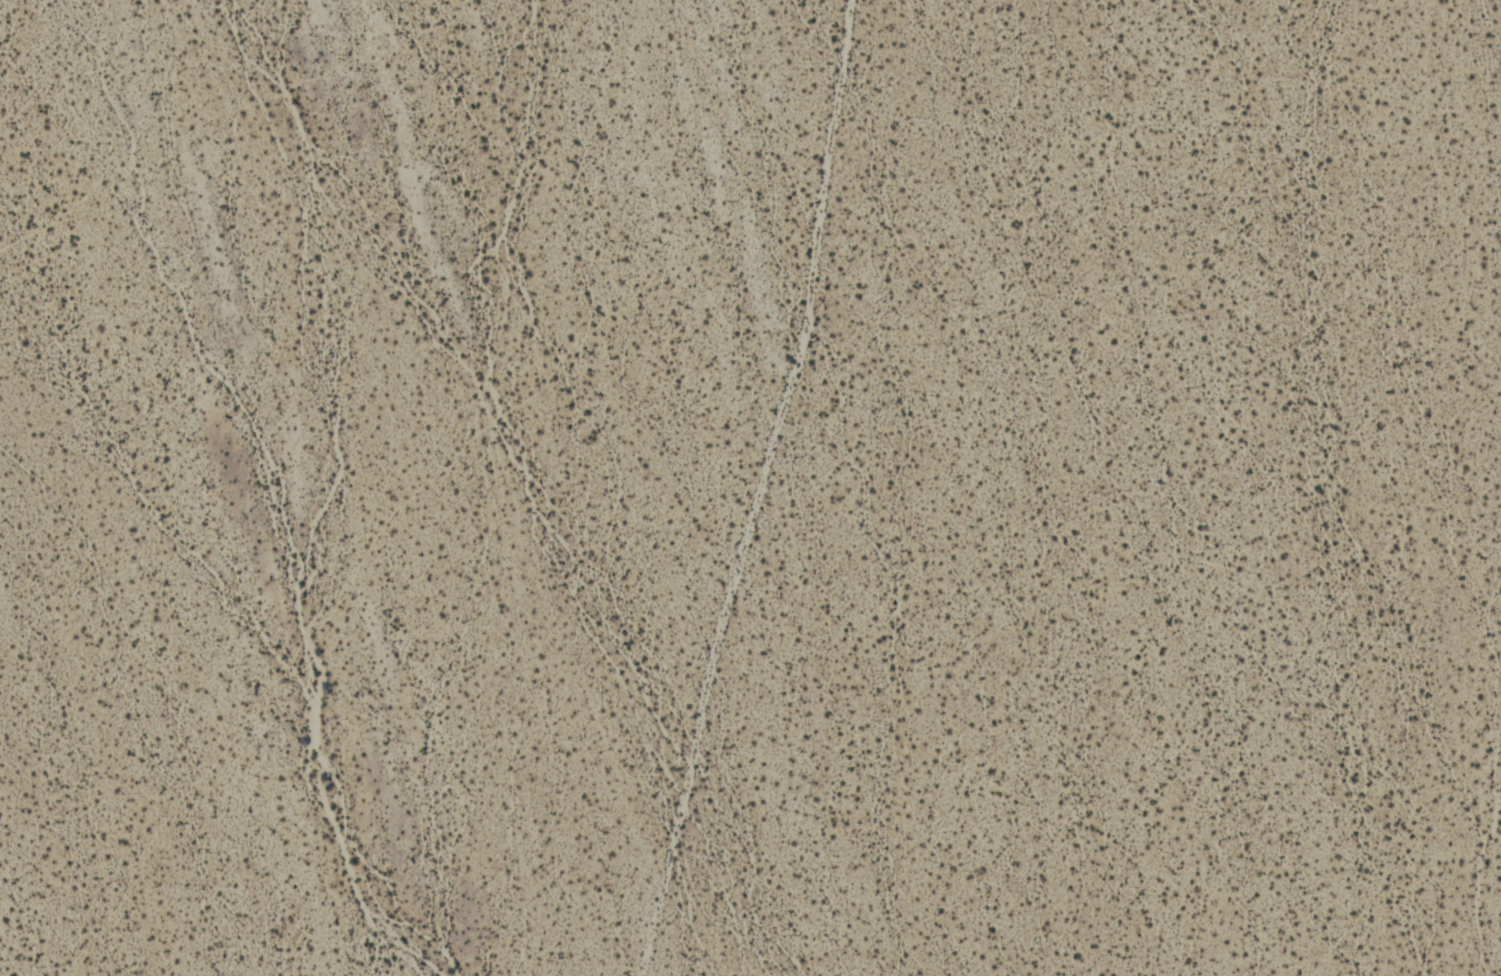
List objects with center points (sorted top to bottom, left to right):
road: (761, 491)

